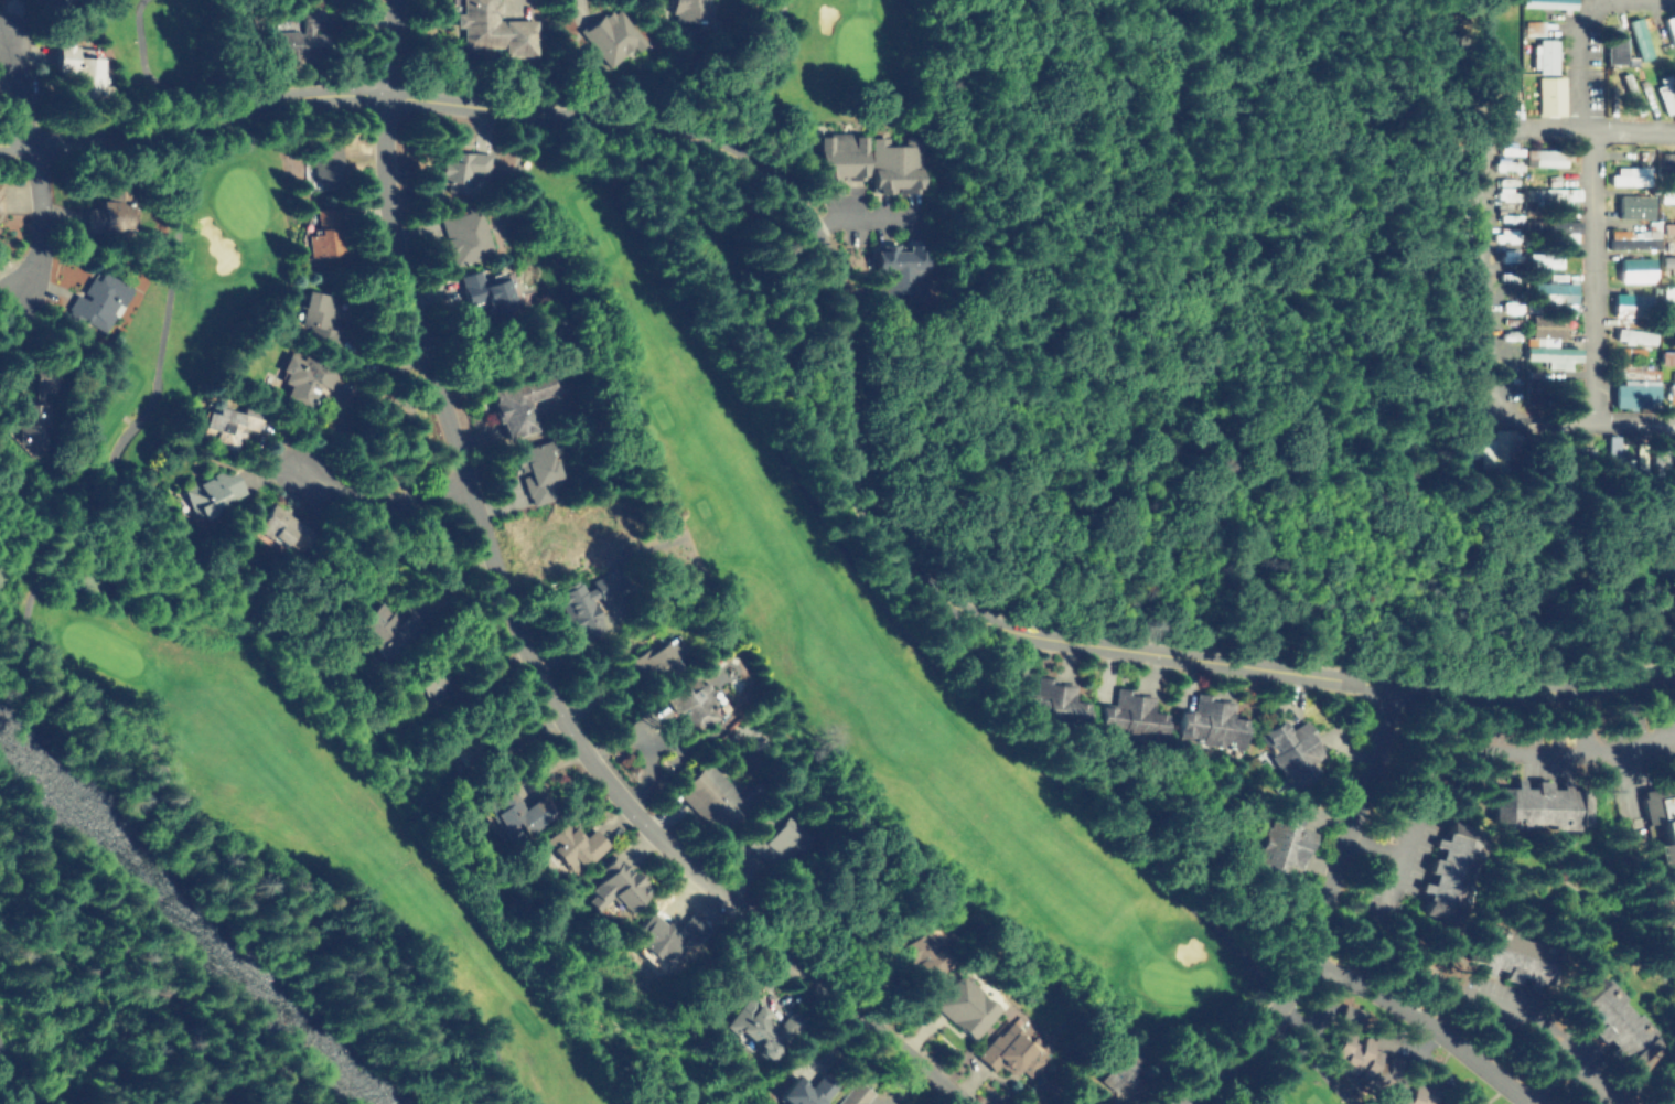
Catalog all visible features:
building: (44, 2)
building: (1553, 3)
building: (689, 9)
building: (493, 28)
building: (1672, 29)
building: (610, 35)
building: (1639, 36)
building: (294, 37)
building: (1614, 45)
building: (1543, 54)
road: (1484, 63)
building: (75, 66)
road: (14, 87)
building: (1667, 93)
building: (1547, 94)
building: (833, 152)
building: (1544, 156)
building: (1669, 156)
building: (889, 162)
building: (322, 164)
building: (458, 164)
building: (1628, 173)
building: (1556, 192)
building: (0, 193)
building: (1673, 193)
road: (1588, 203)
building: (1633, 206)
building: (106, 207)
road: (1483, 214)
road: (36, 219)
building: (1667, 227)
building: (1568, 229)
building: (323, 231)
building: (464, 234)
building: (1632, 243)
building: (1543, 260)
building: (1666, 262)
building: (900, 268)
building: (1633, 270)
building: (484, 288)
building: (1671, 289)
building: (1554, 297)
building: (98, 301)
building: (1622, 301)
building: (318, 315)
building: (1546, 322)
building: (1630, 336)
building: (1553, 352)
building: (1666, 352)
building: (1631, 366)
building: (300, 374)
road: (841, 375)
building: (1668, 390)
building: (1634, 394)
building: (522, 398)
building: (225, 420)
road: (1633, 420)
building: (25, 422)
building: (1488, 451)
building: (1610, 452)
building: (535, 458)
building: (215, 484)
road: (376, 499)
park: (741, 505)
building: (278, 530)
park: (56, 553)
building: (579, 607)
building: (378, 629)
road: (519, 629)
building: (657, 658)
building: (420, 676)
building: (1046, 700)
building: (697, 701)
building: (1127, 715)
building: (1211, 724)
road: (1597, 746)
road: (1478, 748)
building: (452, 749)
building: (1290, 751)
building: (710, 795)
building: (1529, 803)
building: (508, 817)
building: (1657, 828)
building: (774, 836)
building: (1282, 842)
building: (572, 846)
road: (1393, 853)
building: (1454, 873)
building: (609, 887)
road: (1316, 913)
river: (191, 920)
building: (686, 928)
building: (922, 947)
building: (1507, 957)
road: (1469, 990)
road: (1425, 997)
building: (965, 1006)
building: (1346, 1014)
building: (1611, 1019)
road: (1422, 1020)
building: (759, 1023)
building: (1379, 1036)
road: (1429, 1043)
building: (1007, 1051)
building: (1114, 1055)
building: (1365, 1069)
road: (1546, 1076)
road: (15, 1080)
building: (1664, 1083)
building: (804, 1090)
building: (855, 1094)
road: (1523, 1102)

